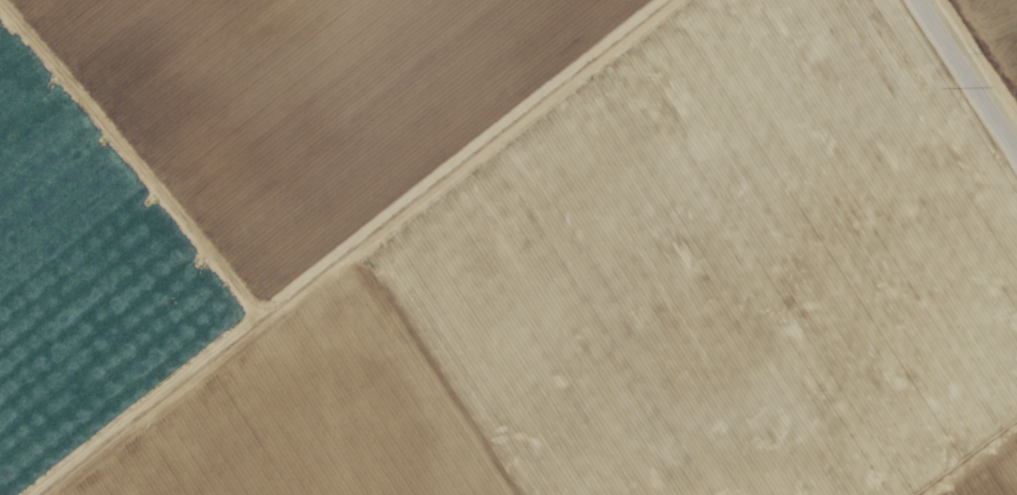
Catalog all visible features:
road: (965, 79)
road: (409, 247)
crop: (508, 247)

